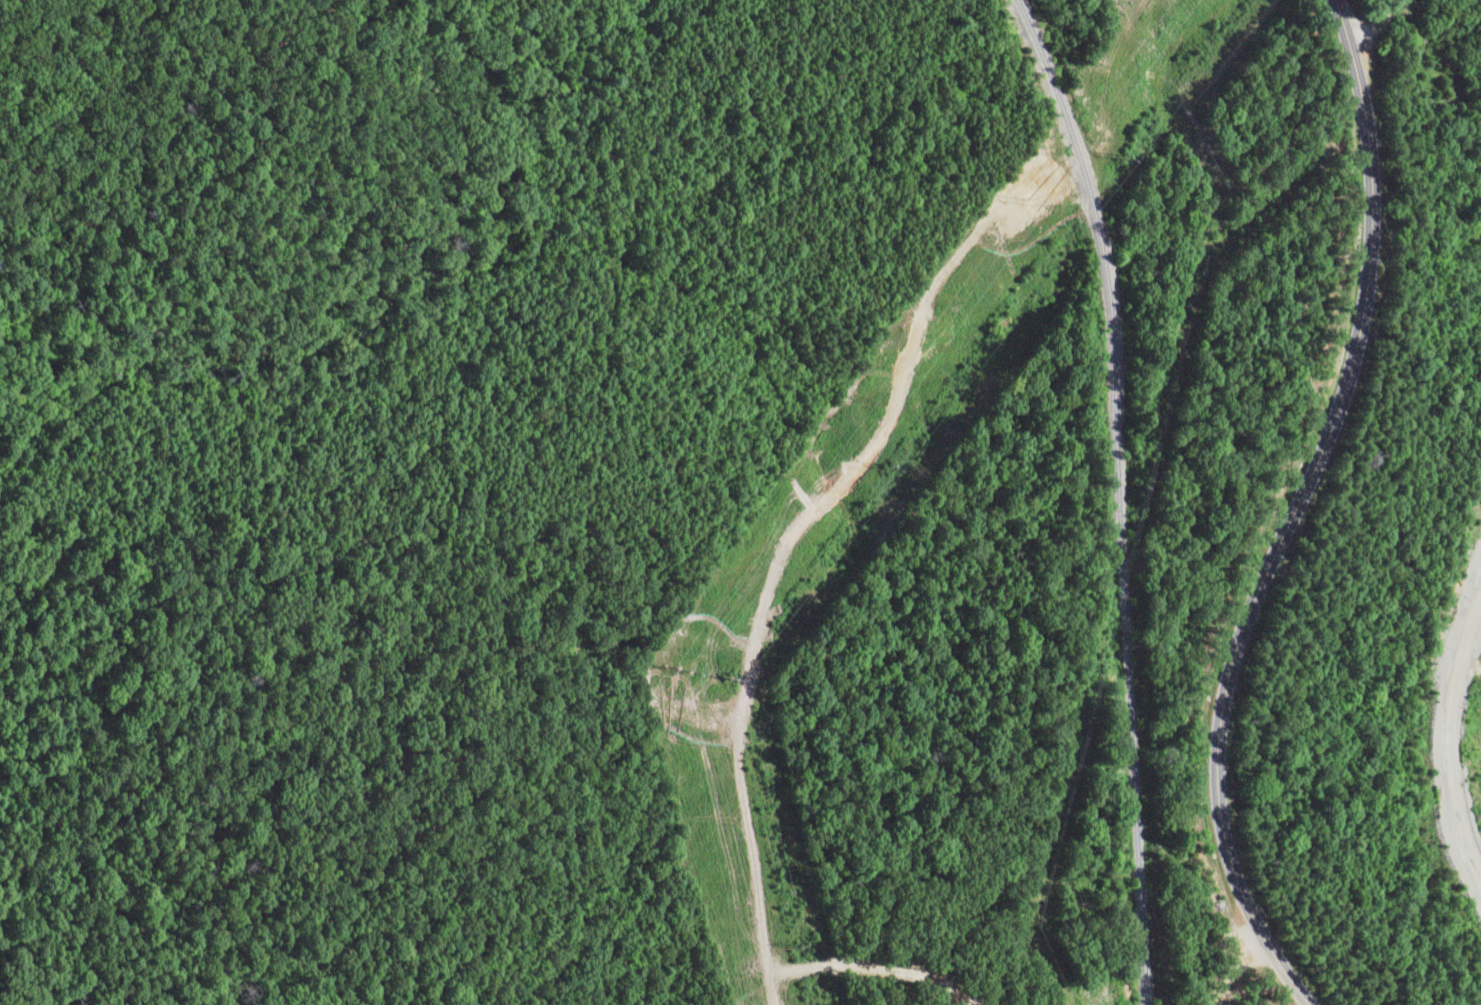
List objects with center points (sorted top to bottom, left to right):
road: (1386, 24)
railway: (1119, 495)
road: (1304, 513)
road: (1440, 766)

